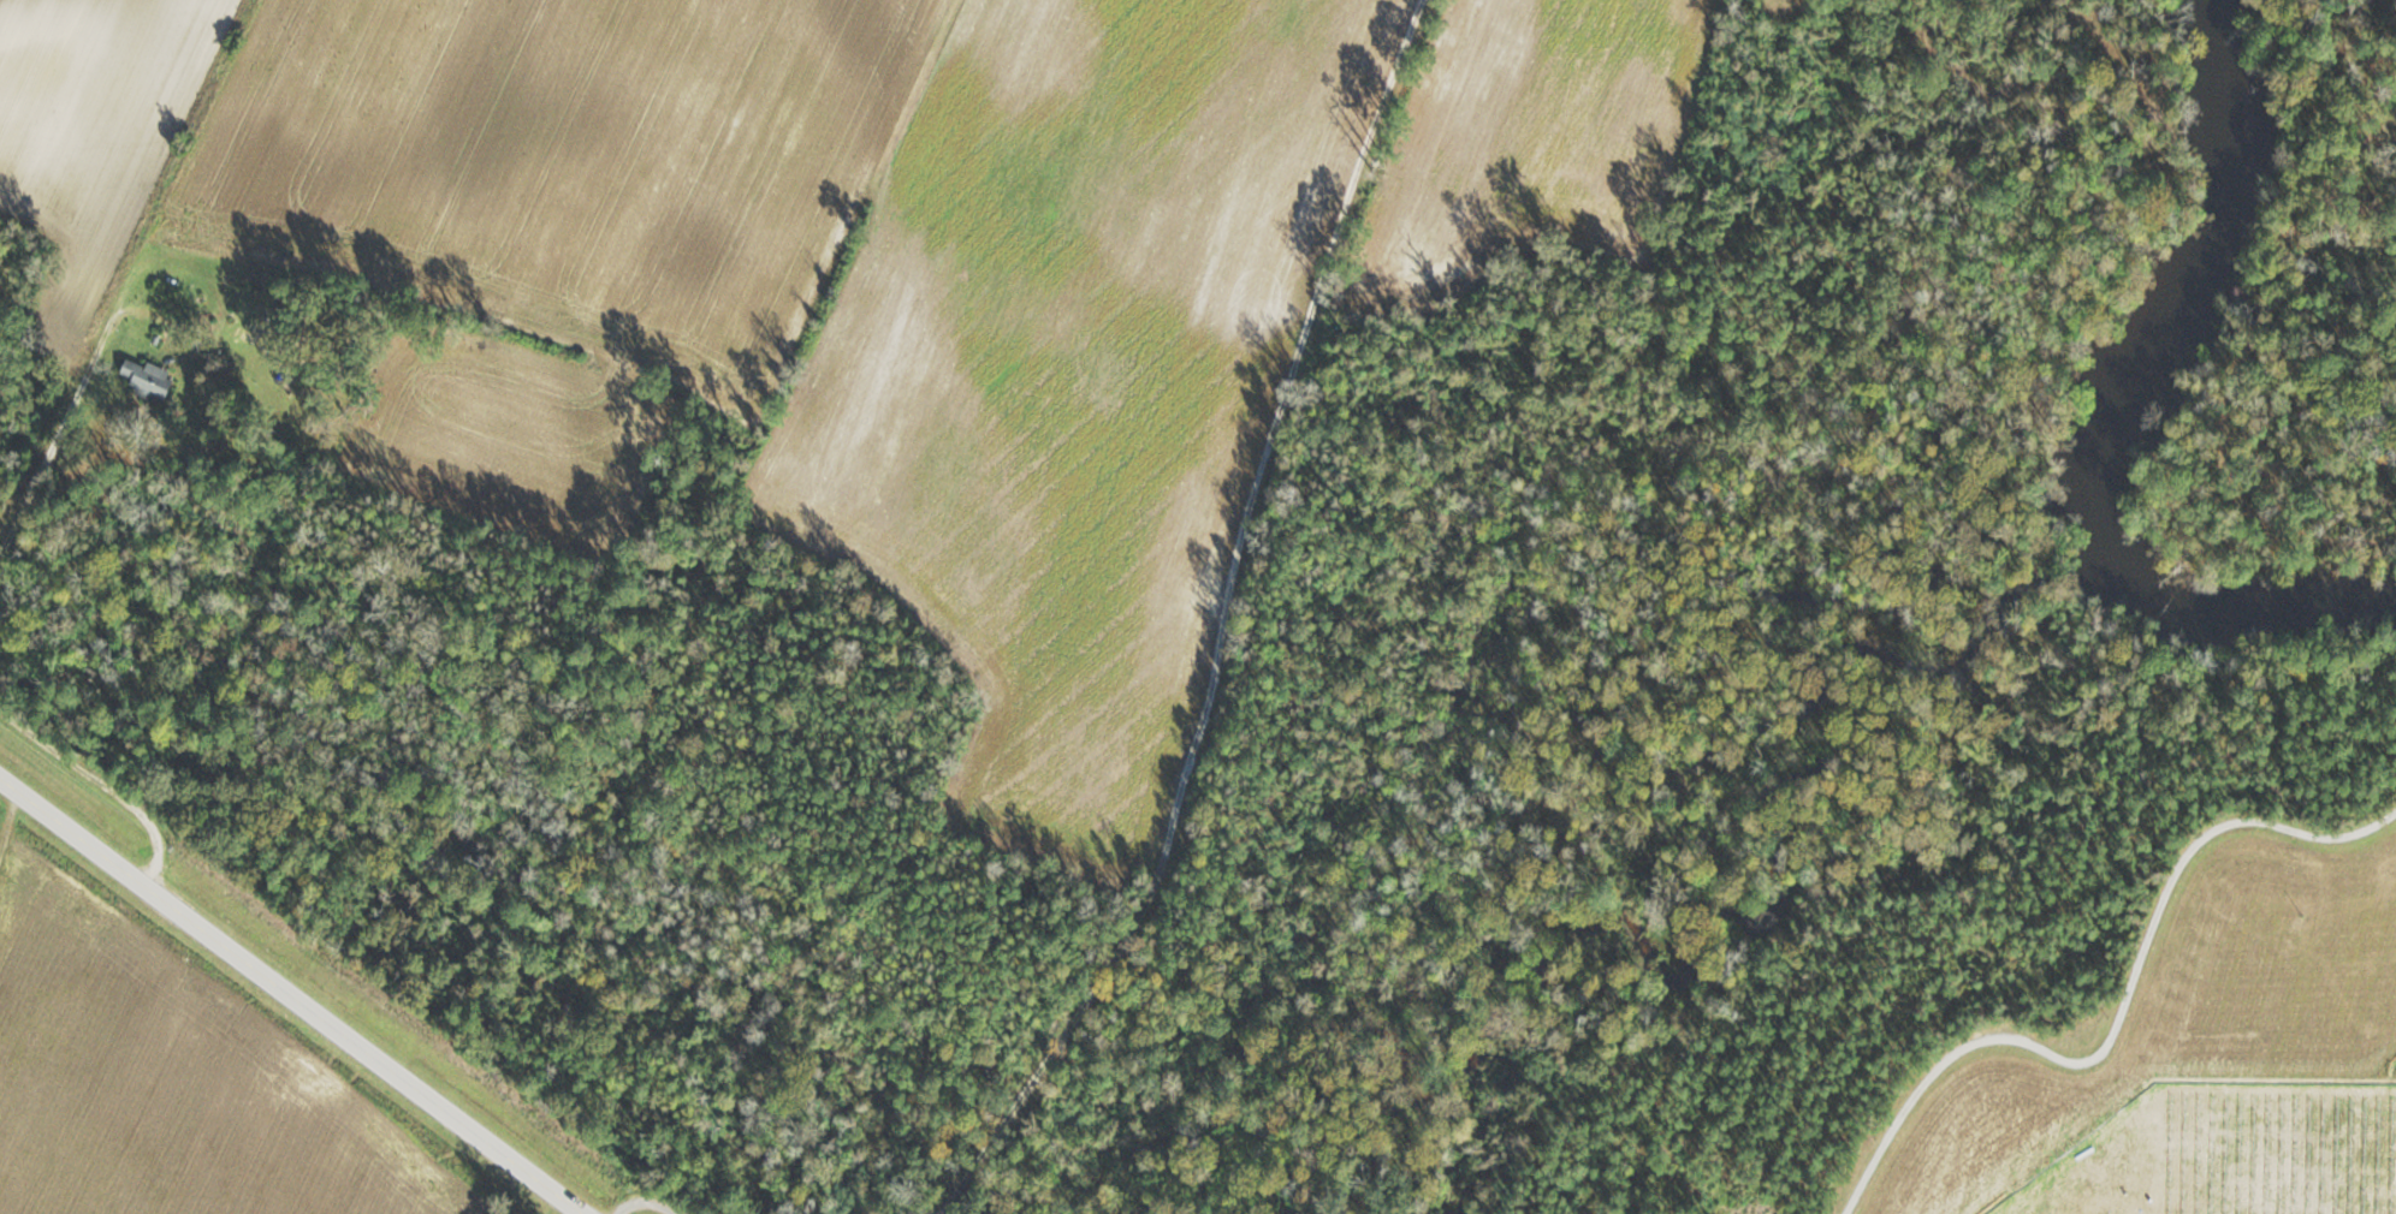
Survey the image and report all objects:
building: (257, 314)
airport: (2300, 328)
building: (149, 377)
river: (2121, 421)
road: (1256, 633)
road: (291, 995)
road: (2118, 1016)
road: (642, 1200)

